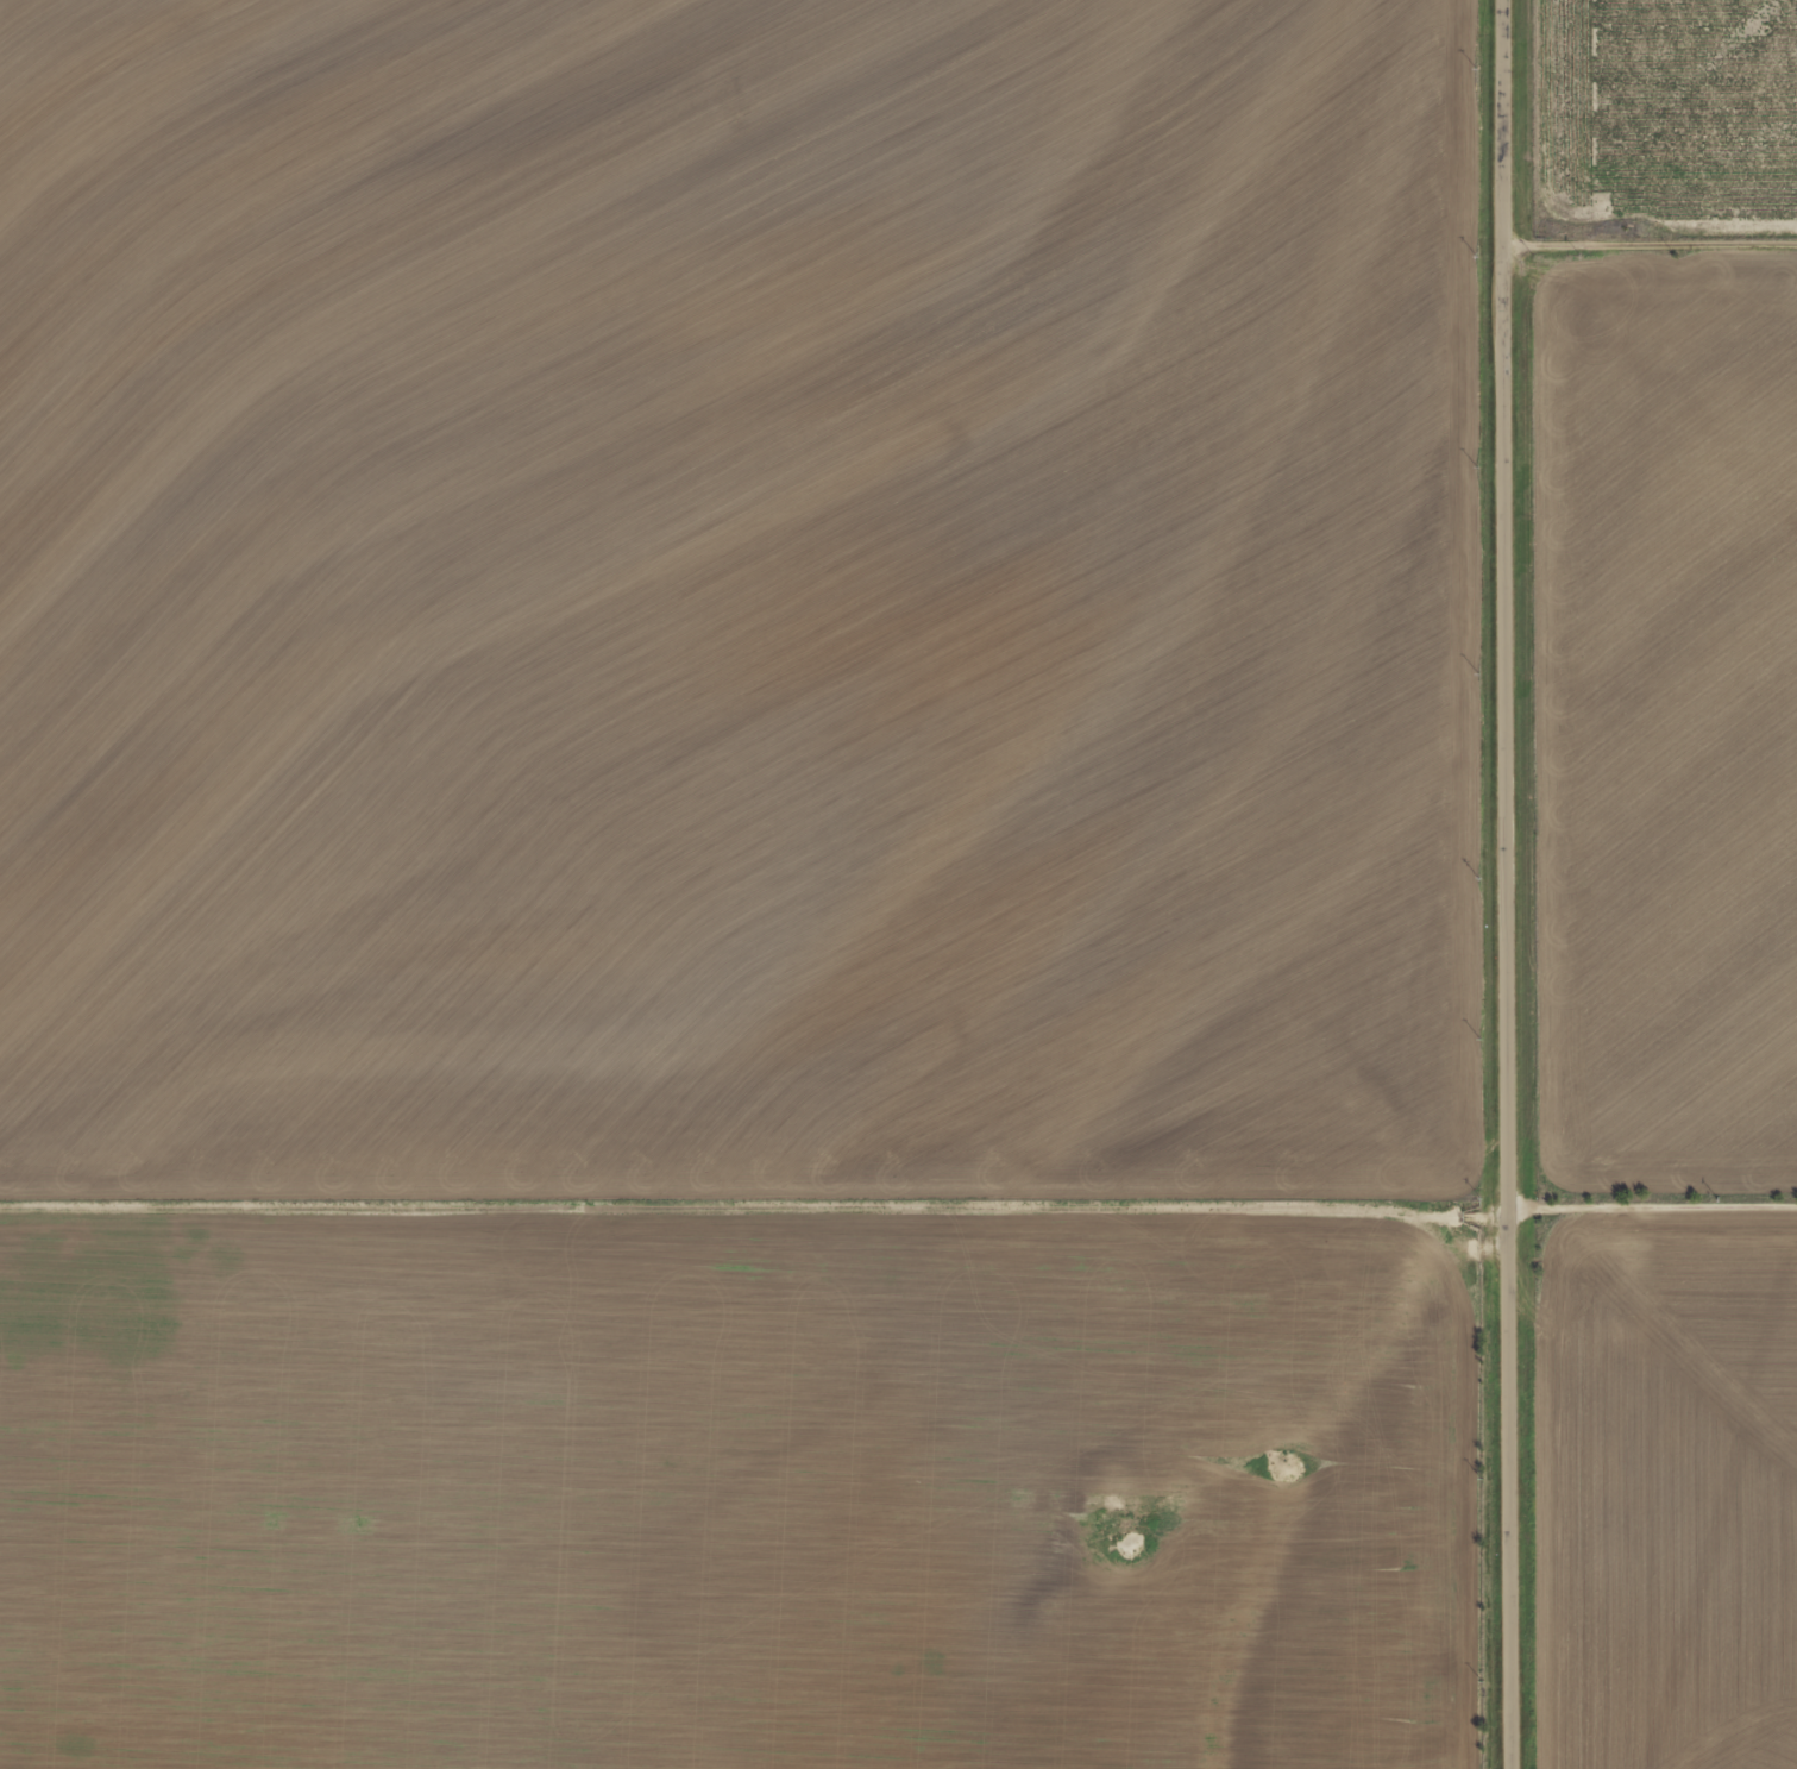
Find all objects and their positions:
road: (1780, 222)
road: (1639, 226)
road: (1515, 884)
road: (1772, 1196)
road: (1632, 1197)

